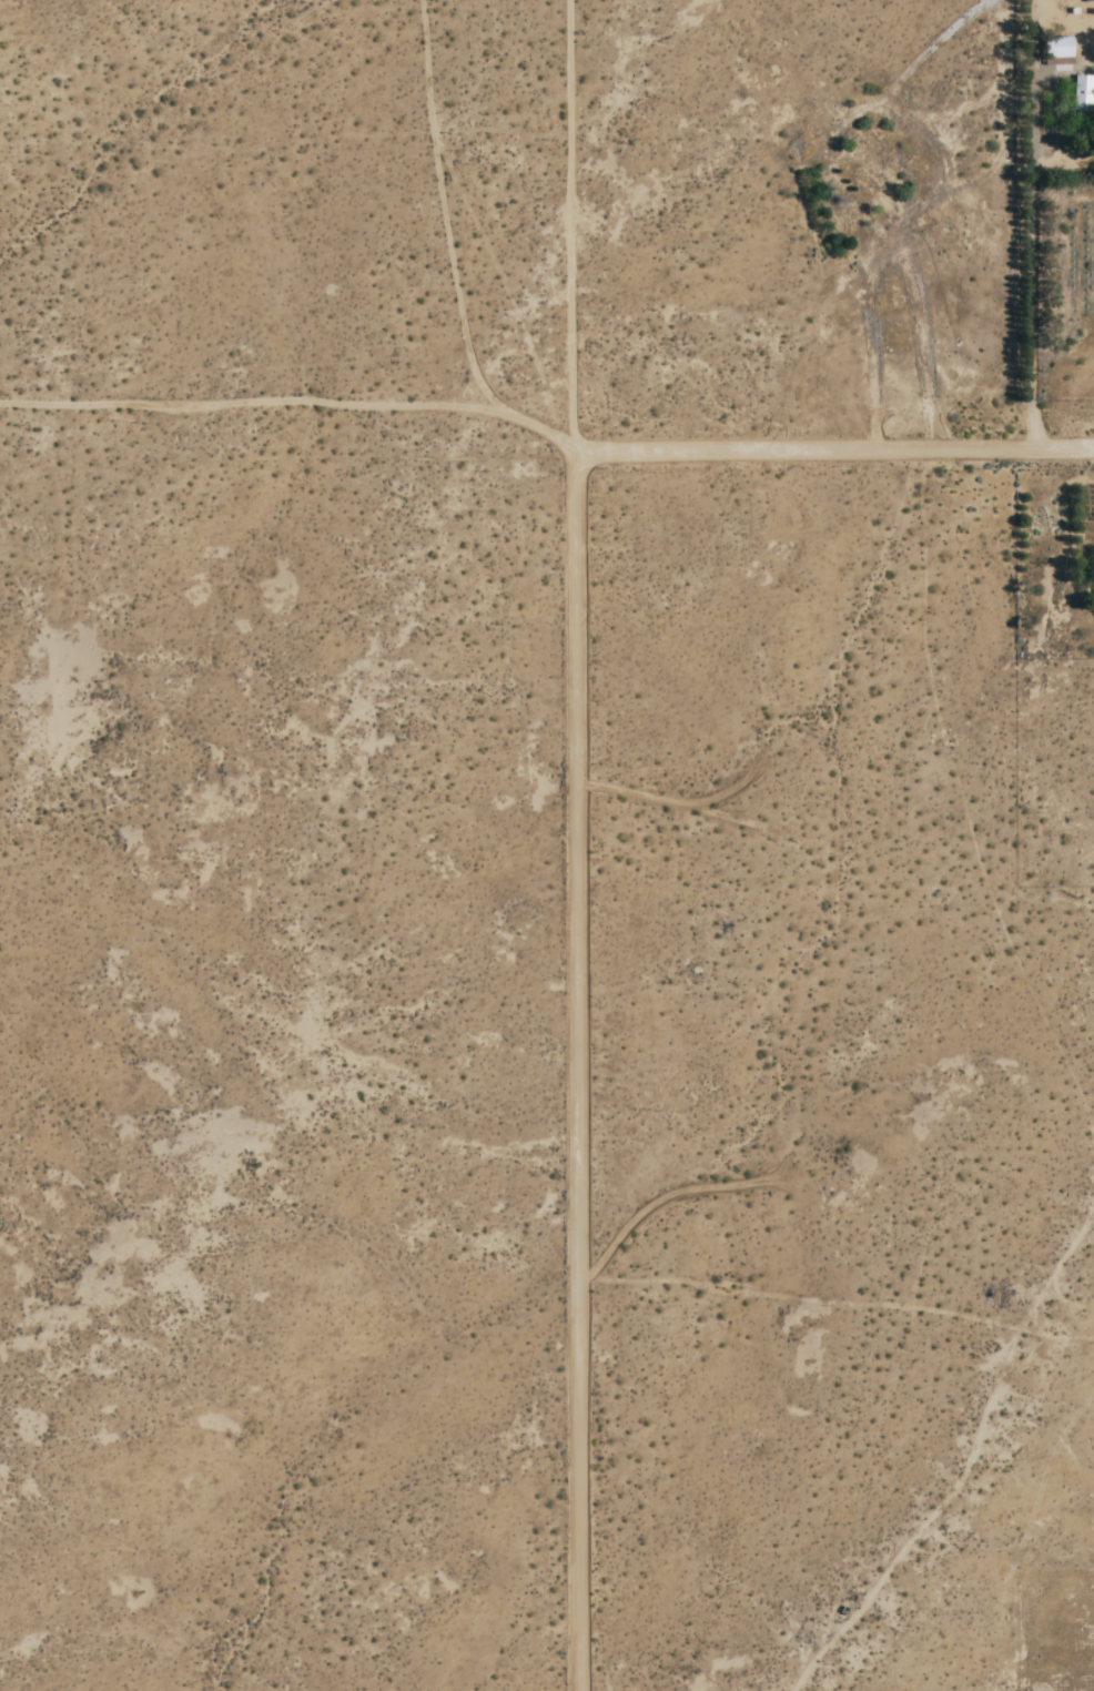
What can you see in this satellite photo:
building: (1057, 51)
building: (1082, 94)
road: (1043, 223)
road: (834, 448)
road: (577, 1072)

